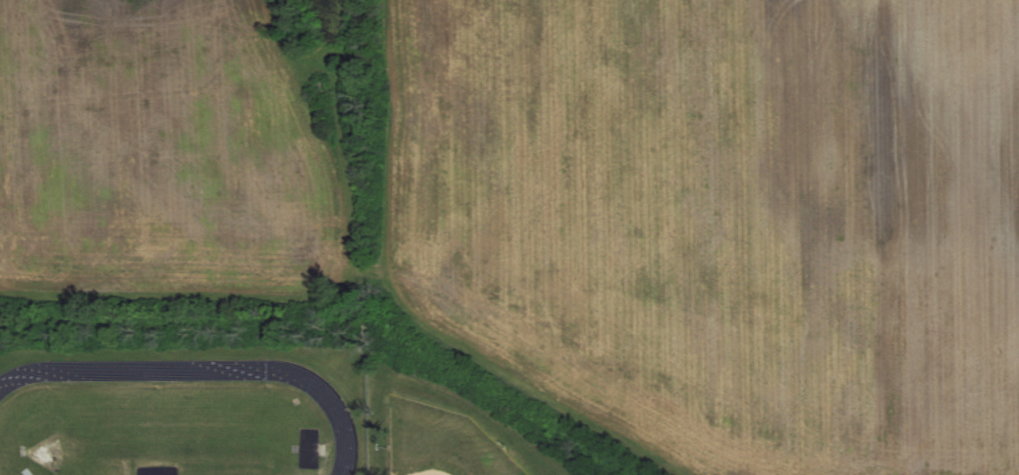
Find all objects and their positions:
building: (320, 88)
track: (338, 420)

